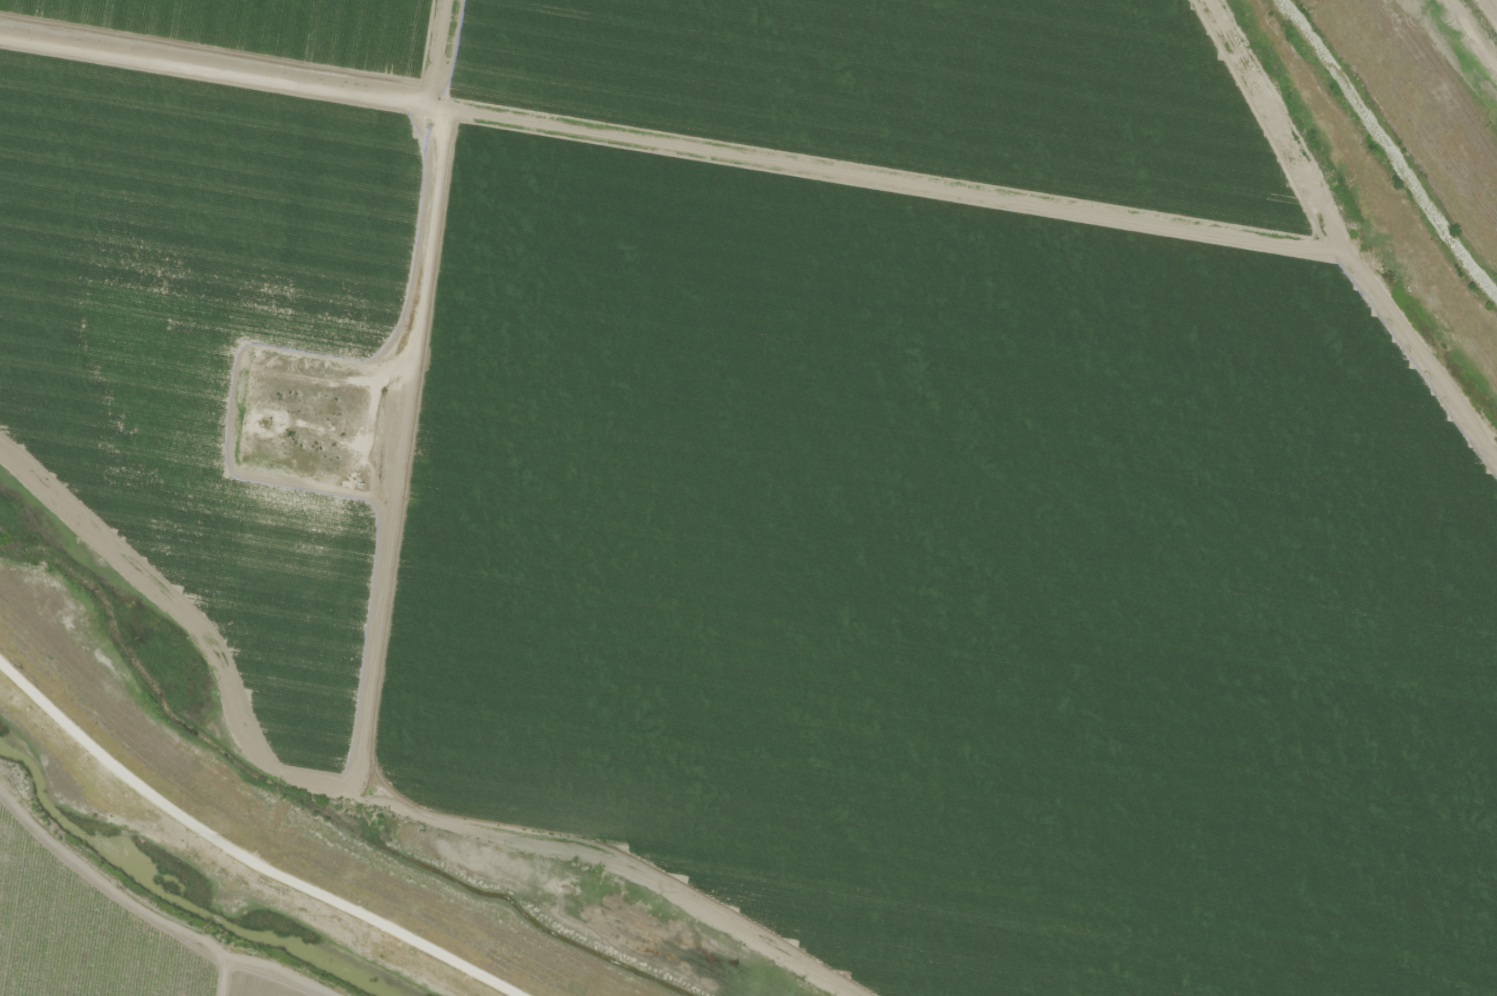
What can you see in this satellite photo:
river: (3, 750)
road: (281, 824)
river: (129, 857)

